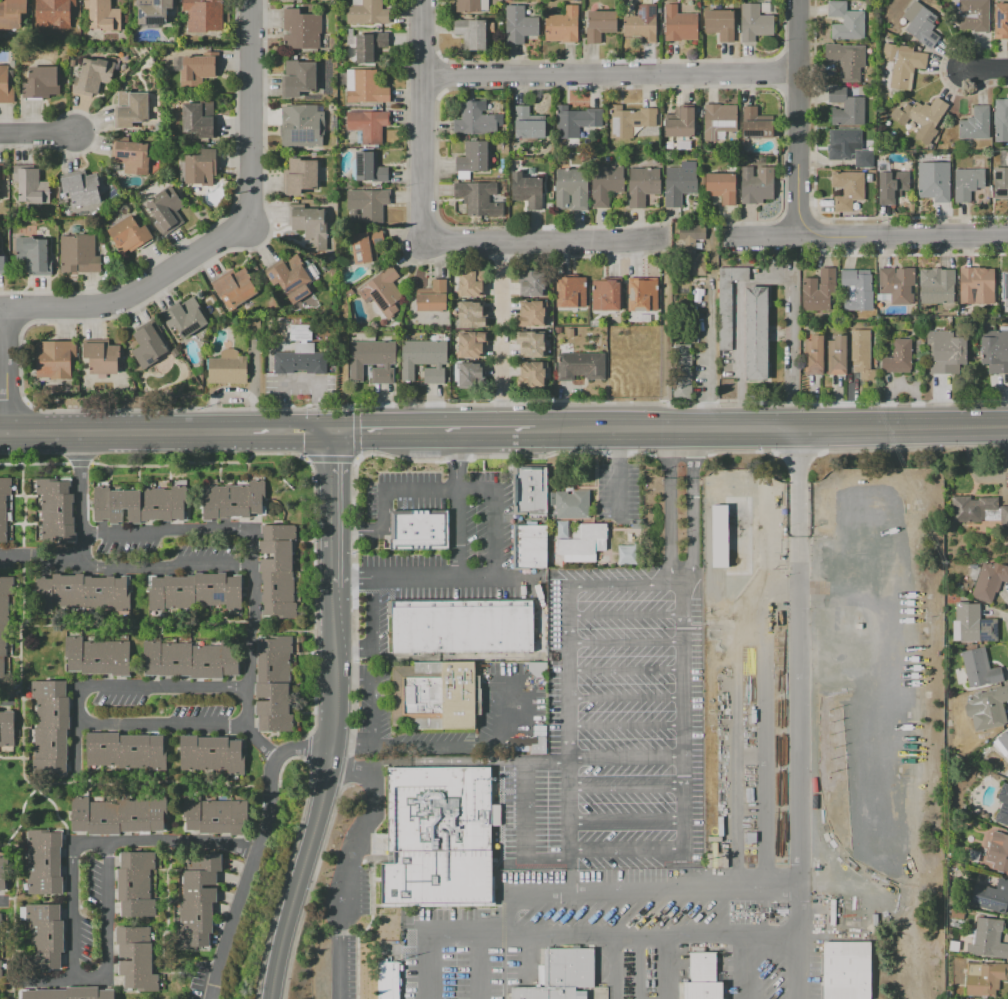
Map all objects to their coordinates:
building: (471, 5)
building: (152, 11)
building: (366, 12)
building: (11, 13)
building: (53, 13)
building: (102, 15)
building: (204, 15)
building: (974, 15)
building: (1000, 20)
building: (845, 22)
building: (719, 23)
building: (754, 23)
building: (640, 24)
building: (679, 24)
building: (921, 24)
building: (519, 25)
building: (562, 25)
building: (599, 25)
building: (304, 30)
building: (471, 33)
building: (370, 47)
building: (846, 60)
building: (902, 64)
building: (197, 71)
road: (990, 71)
building: (93, 74)
building: (298, 78)
road: (612, 80)
building: (40, 83)
building: (5, 85)
building: (366, 86)
building: (845, 107)
building: (131, 108)
road: (249, 114)
road: (429, 115)
road: (794, 117)
building: (199, 118)
building: (921, 118)
building: (718, 119)
building: (476, 120)
building: (630, 120)
building: (1001, 121)
building: (577, 122)
building: (680, 123)
building: (755, 123)
building: (975, 123)
building: (368, 124)
building: (528, 124)
building: (302, 126)
road: (35, 137)
building: (844, 142)
building: (684, 145)
building: (132, 154)
building: (473, 156)
building: (863, 159)
building: (200, 167)
building: (369, 167)
building: (1, 172)
building: (299, 176)
building: (934, 181)
building: (967, 183)
building: (1000, 183)
building: (30, 184)
building: (605, 184)
building: (757, 184)
building: (678, 185)
building: (642, 186)
building: (80, 187)
building: (722, 187)
building: (891, 187)
building: (571, 189)
building: (847, 189)
building: (526, 190)
building: (478, 198)
building: (368, 202)
building: (164, 210)
building: (309, 225)
building: (129, 233)
road: (548, 233)
road: (862, 234)
building: (365, 245)
building: (692, 248)
building: (33, 254)
building: (78, 254)
building: (2, 263)
road: (501, 278)
building: (287, 282)
building: (532, 283)
building: (470, 284)
building: (896, 284)
building: (974, 285)
building: (1004, 287)
building: (233, 289)
building: (938, 289)
building: (857, 290)
building: (382, 292)
building: (817, 292)
building: (573, 295)
building: (606, 295)
building: (641, 296)
road: (137, 303)
building: (428, 303)
building: (726, 304)
building: (474, 315)
building: (534, 315)
road: (3, 316)
building: (187, 318)
building: (256, 325)
road: (737, 328)
building: (303, 334)
building: (755, 334)
building: (150, 345)
building: (474, 345)
building: (534, 345)
road: (790, 348)
building: (949, 352)
building: (996, 352)
road: (709, 354)
building: (816, 357)
building: (839, 357)
building: (99, 358)
building: (901, 358)
building: (51, 359)
building: (864, 359)
building: (426, 361)
building: (375, 362)
building: (303, 363)
building: (583, 367)
building: (230, 369)
building: (684, 374)
road: (6, 375)
building: (474, 376)
building: (535, 376)
road: (499, 383)
road: (299, 384)
road: (771, 428)
road: (432, 431)
road: (105, 432)
road: (267, 432)
traffic signals: (329, 432)
road: (355, 432)
road: (3, 434)
road: (330, 459)
road: (356, 460)
building: (532, 491)
road: (382, 497)
building: (236, 501)
road: (329, 504)
road: (459, 504)
building: (3, 505)
building: (142, 505)
building: (575, 506)
building: (974, 509)
building: (59, 511)
road: (494, 516)
building: (1005, 518)
road: (183, 531)
building: (421, 531)
road: (83, 535)
building: (584, 545)
building: (532, 547)
building: (626, 554)
road: (164, 566)
road: (683, 569)
road: (676, 570)
building: (280, 572)
road: (394, 579)
road: (498, 580)
building: (991, 582)
building: (198, 592)
building: (85, 593)
road: (313, 595)
building: (4, 620)
building: (460, 626)
building: (979, 626)
road: (369, 630)
road: (250, 643)
building: (100, 658)
building: (193, 660)
building: (982, 669)
building: (276, 685)
road: (146, 688)
building: (430, 695)
road: (4, 702)
building: (989, 710)
road: (374, 711)
road: (164, 722)
building: (7, 729)
building: (53, 729)
road: (351, 733)
road: (258, 740)
building: (1005, 741)
road: (469, 744)
road: (300, 747)
road: (307, 747)
road: (77, 749)
building: (128, 752)
building: (214, 755)
road: (625, 759)
road: (625, 783)
road: (322, 791)
building: (1004, 807)
road: (568, 810)
building: (120, 816)
building: (218, 817)
road: (625, 819)
building: (436, 838)
road: (182, 841)
building: (1000, 852)
road: (351, 860)
road: (534, 860)
building: (47, 863)
road: (800, 863)
building: (2, 873)
road: (570, 877)
road: (246, 878)
road: (283, 879)
building: (138, 885)
building: (992, 897)
building: (200, 902)
building: (955, 902)
road: (2, 904)
building: (959, 914)
road: (657, 936)
building: (47, 937)
building: (988, 939)
road: (422, 940)
building: (139, 959)
building: (0, 966)
road: (613, 967)
road: (636, 967)
road: (666, 967)
road: (742, 967)
road: (798, 967)
building: (849, 971)
building: (561, 975)
road: (76, 976)
building: (702, 977)
building: (984, 978)
building: (387, 980)
road: (52, 983)
building: (69, 993)

